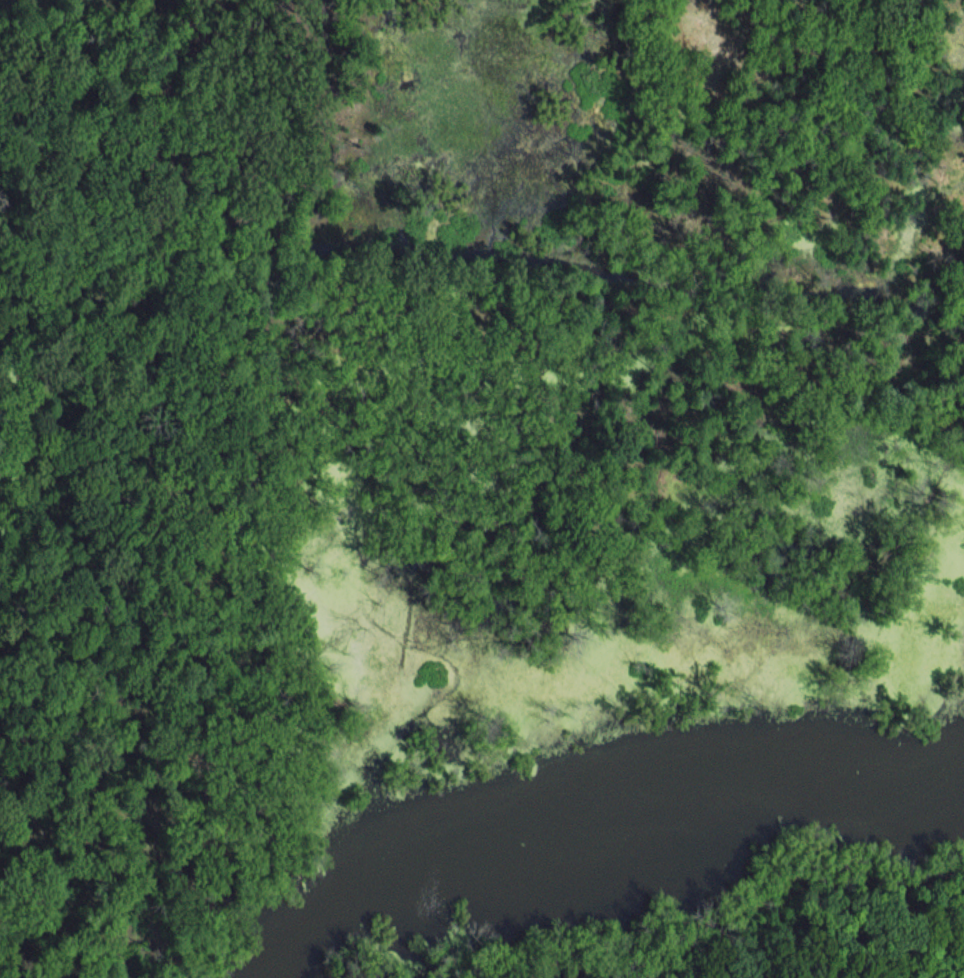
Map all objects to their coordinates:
river: (591, 830)

